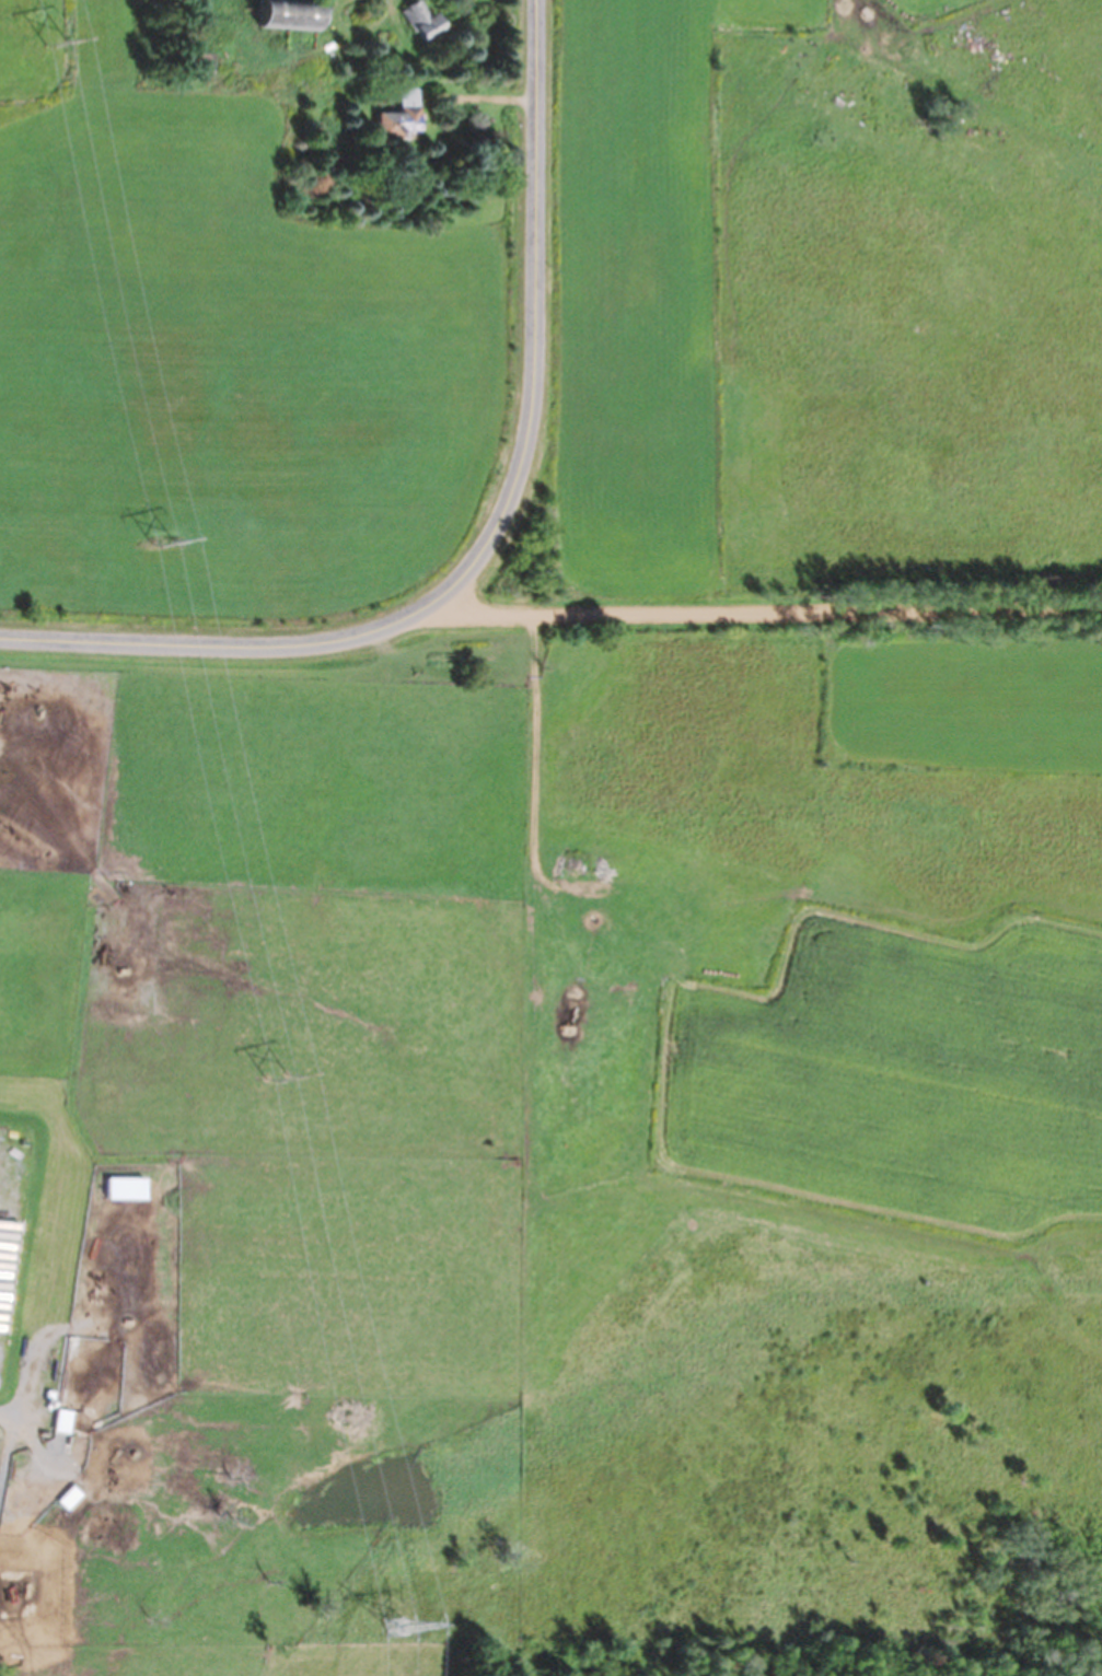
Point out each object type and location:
building: (424, 22)
power tower: (55, 42)
building: (402, 115)
road: (497, 529)
power tower: (163, 542)
road: (772, 606)
power tower: (278, 1078)
building: (130, 1187)
building: (65, 1421)
power tower: (396, 1628)

